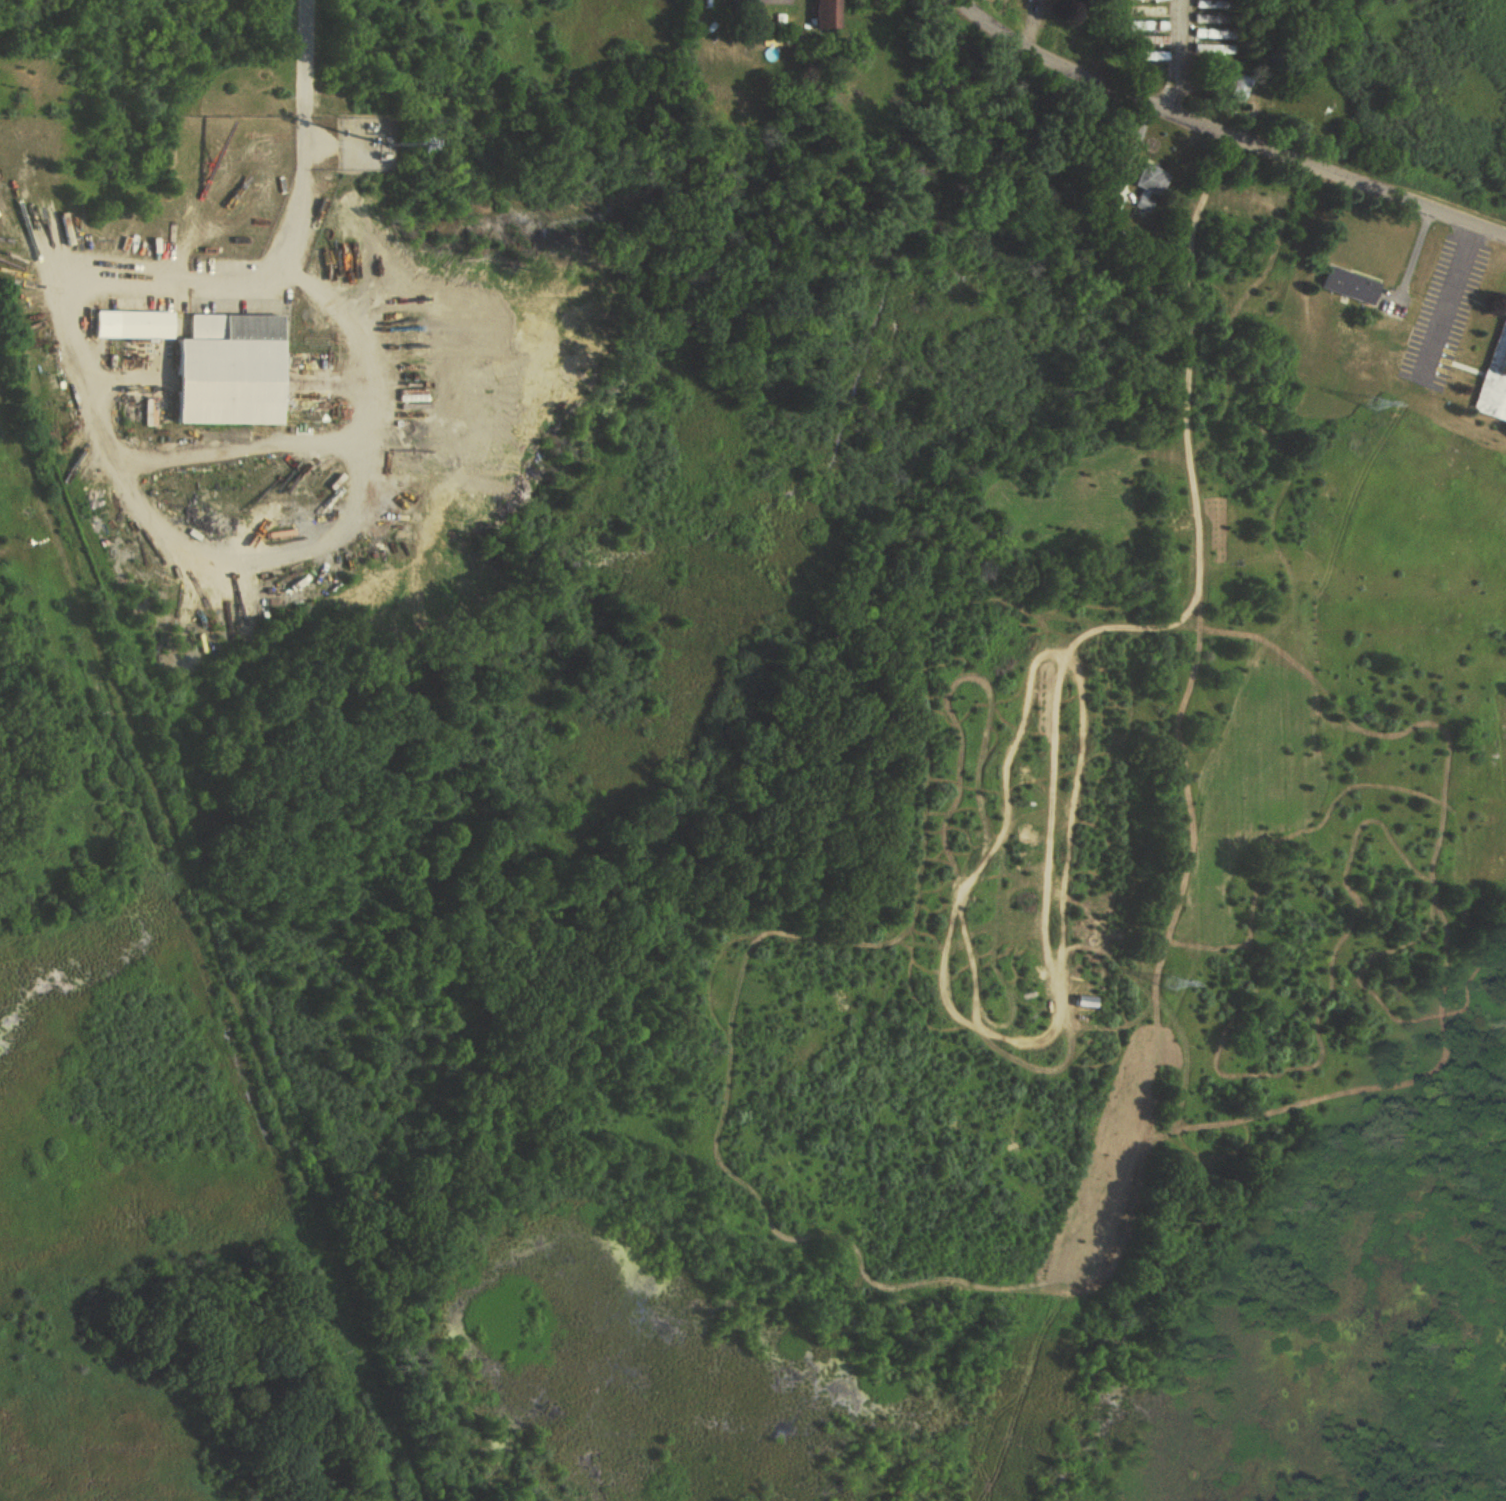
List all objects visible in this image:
building: (745, 0)
building: (1153, 10)
building: (832, 13)
building: (1211, 18)
building: (1151, 25)
building: (1210, 33)
building: (1153, 40)
building: (1216, 48)
building: (1153, 56)
road: (1177, 56)
building: (1240, 88)
road: (1223, 131)
road: (305, 135)
building: (1152, 187)
building: (1353, 285)
road: (1449, 294)
building: (136, 324)
building: (236, 370)
building: (1495, 381)
power tower: (1376, 399)
road: (155, 454)
power tower: (1172, 979)

